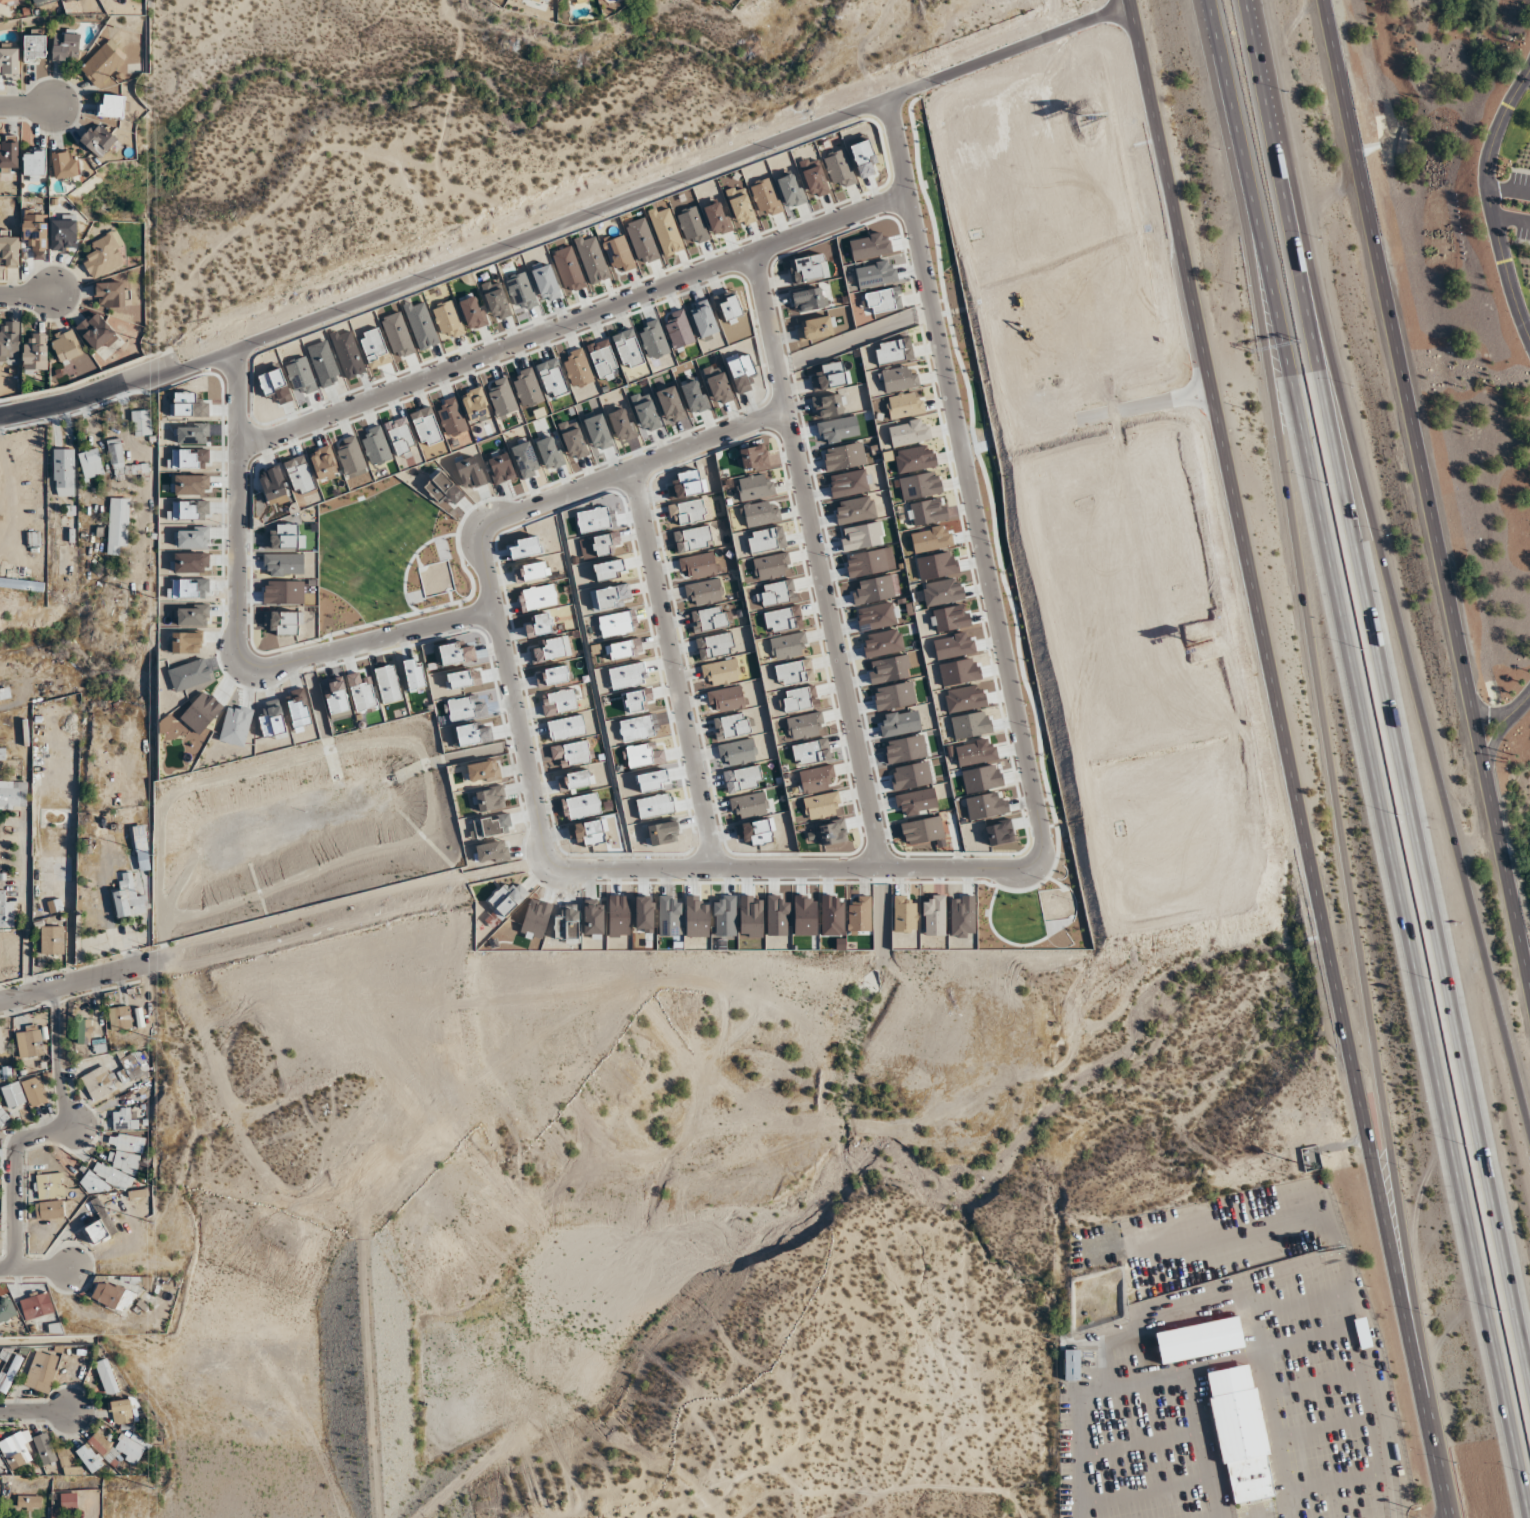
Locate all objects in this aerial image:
building: (544, 0)
building: (572, 0)
building: (5, 1)
building: (69, 1)
building: (41, 2)
building: (66, 44)
building: (35, 47)
building: (9, 60)
building: (103, 63)
road: (907, 90)
road: (27, 105)
building: (112, 105)
building: (98, 139)
building: (9, 152)
building: (34, 164)
building: (65, 165)
road: (1508, 189)
road: (1487, 196)
road: (1510, 212)
building: (35, 229)
building: (63, 232)
building: (9, 250)
building: (103, 254)
road: (445, 267)
building: (113, 293)
road: (25, 294)
road: (570, 322)
building: (97, 331)
road: (853, 338)
building: (9, 340)
building: (66, 345)
building: (35, 353)
road: (1084, 418)
building: (141, 422)
building: (122, 461)
building: (91, 463)
road: (634, 467)
building: (64, 471)
road: (965, 480)
road: (1426, 494)
building: (118, 523)
road: (816, 559)
building: (21, 583)
road: (236, 634)
road: (1391, 667)
road: (672, 668)
road: (1274, 687)
building: (5, 694)
road: (315, 697)
road: (510, 697)
road: (1519, 704)
road: (1498, 727)
road: (1427, 741)
road: (481, 750)
road: (1359, 758)
building: (13, 794)
park: (1516, 804)
road: (1345, 863)
road: (793, 867)
road: (493, 871)
building: (128, 897)
building: (6, 911)
road: (881, 911)
building: (52, 939)
building: (8, 954)
road: (74, 981)
building: (120, 1017)
building: (89, 1035)
building: (31, 1039)
building: (1, 1043)
road: (54, 1057)
building: (133, 1065)
building: (100, 1081)
building: (34, 1091)
building: (13, 1094)
building: (3, 1115)
building: (123, 1118)
building: (0, 1140)
building: (116, 1164)
road: (13, 1174)
building: (0, 1180)
building: (49, 1185)
building: (49, 1209)
building: (100, 1224)
road: (34, 1267)
building: (112, 1295)
building: (36, 1305)
building: (6, 1308)
building: (1362, 1332)
building: (1198, 1339)
building: (1072, 1364)
dam: (370, 1370)
building: (41, 1371)
building: (9, 1375)
building: (106, 1376)
road: (1144, 1379)
building: (121, 1411)
road: (34, 1413)
building: (1240, 1433)
road: (1432, 1447)
building: (24, 1449)
building: (119, 1452)
building: (68, 1500)
building: (29, 1501)

